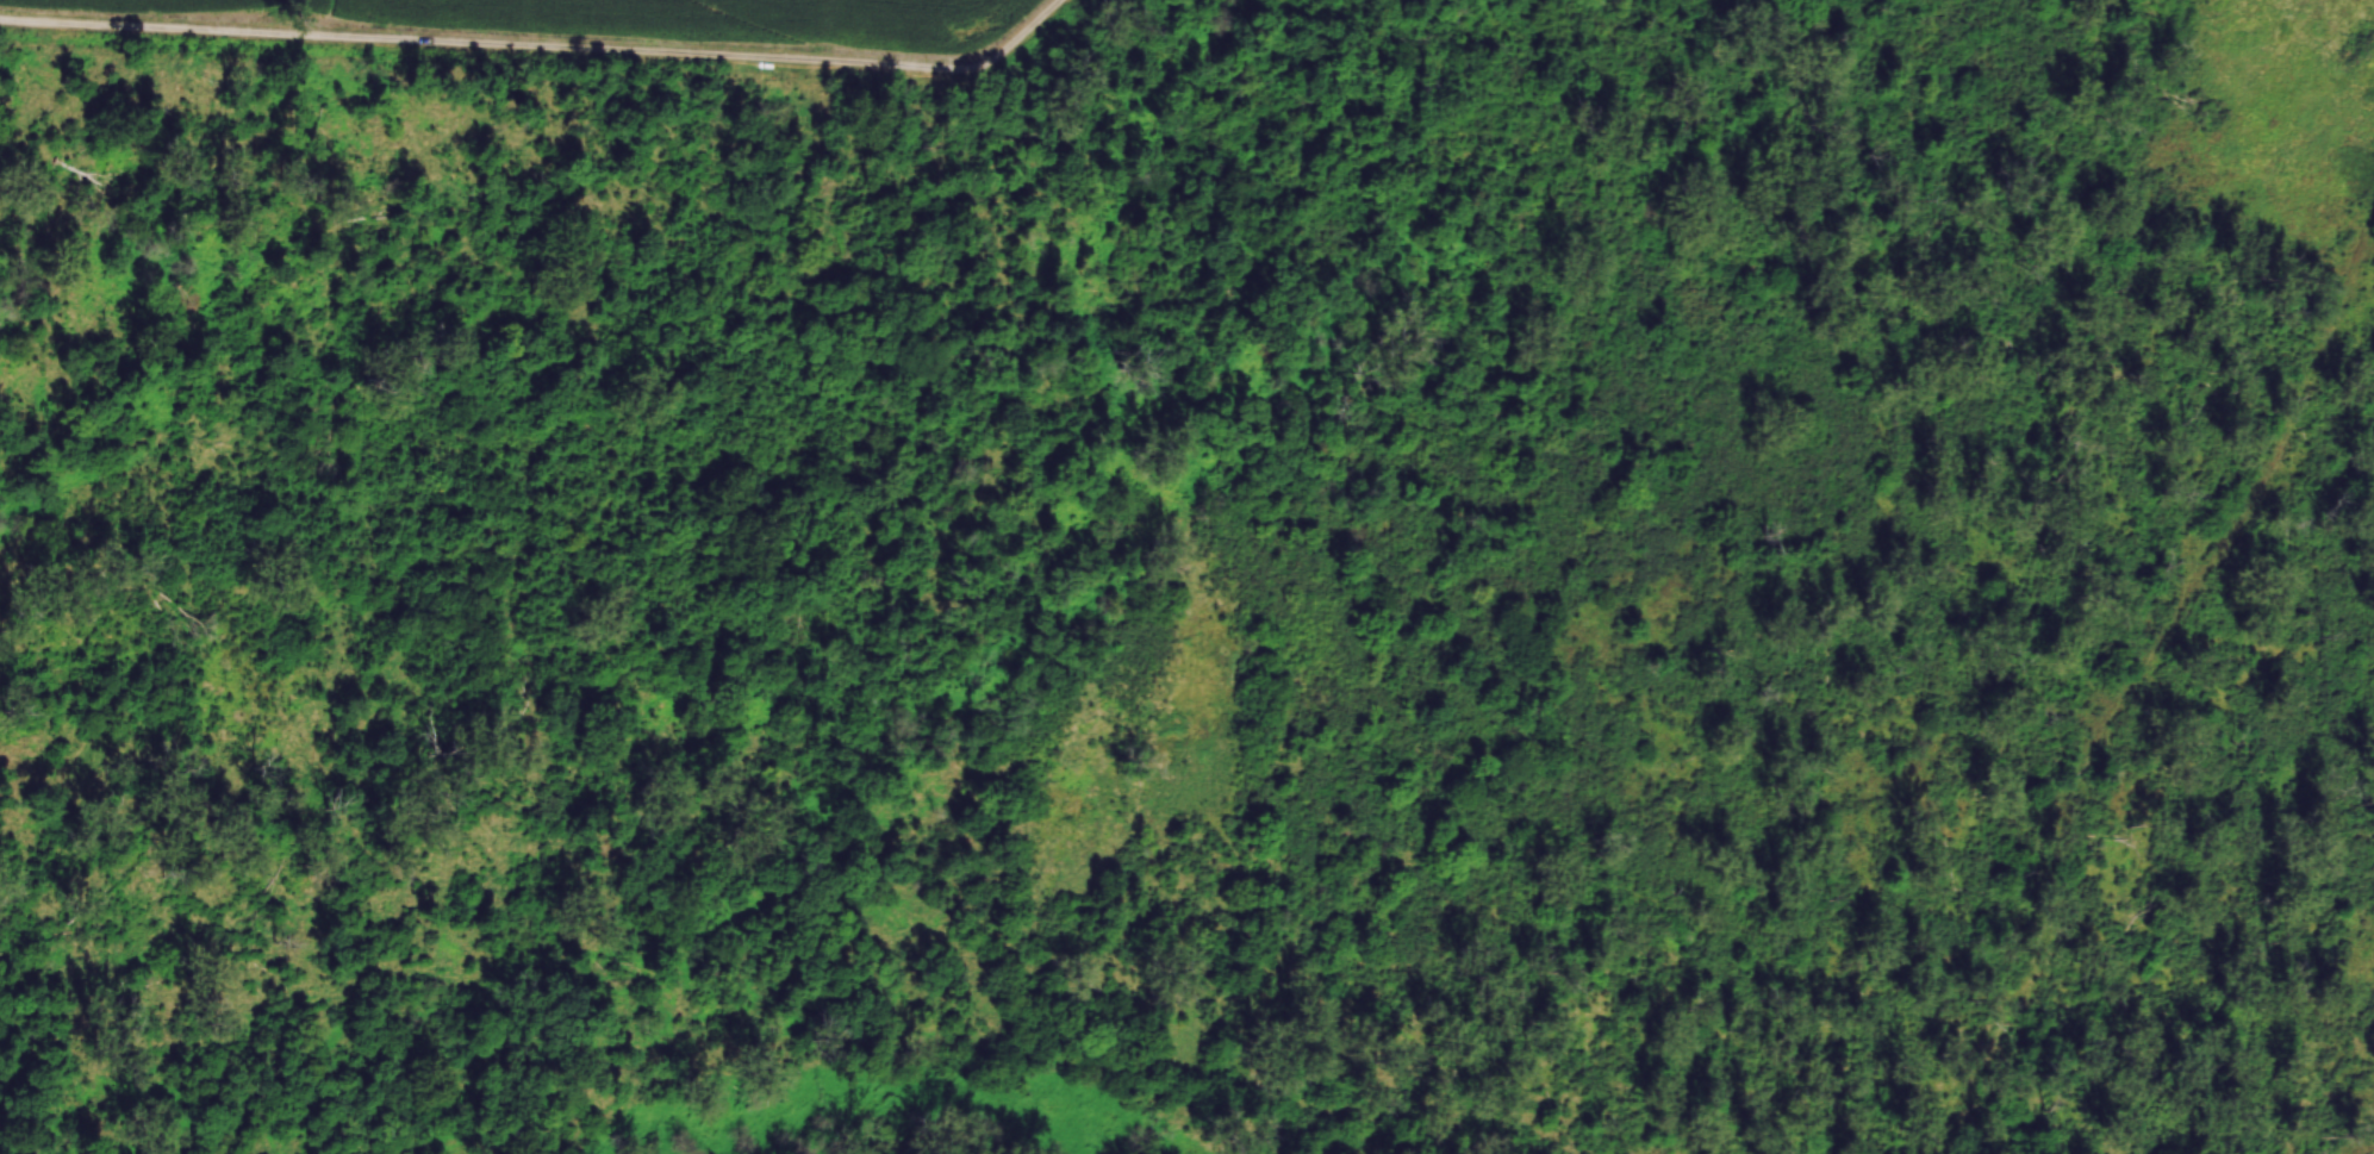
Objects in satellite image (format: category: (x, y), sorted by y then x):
crop: (143, 2)
crop: (742, 17)
road: (543, 45)

